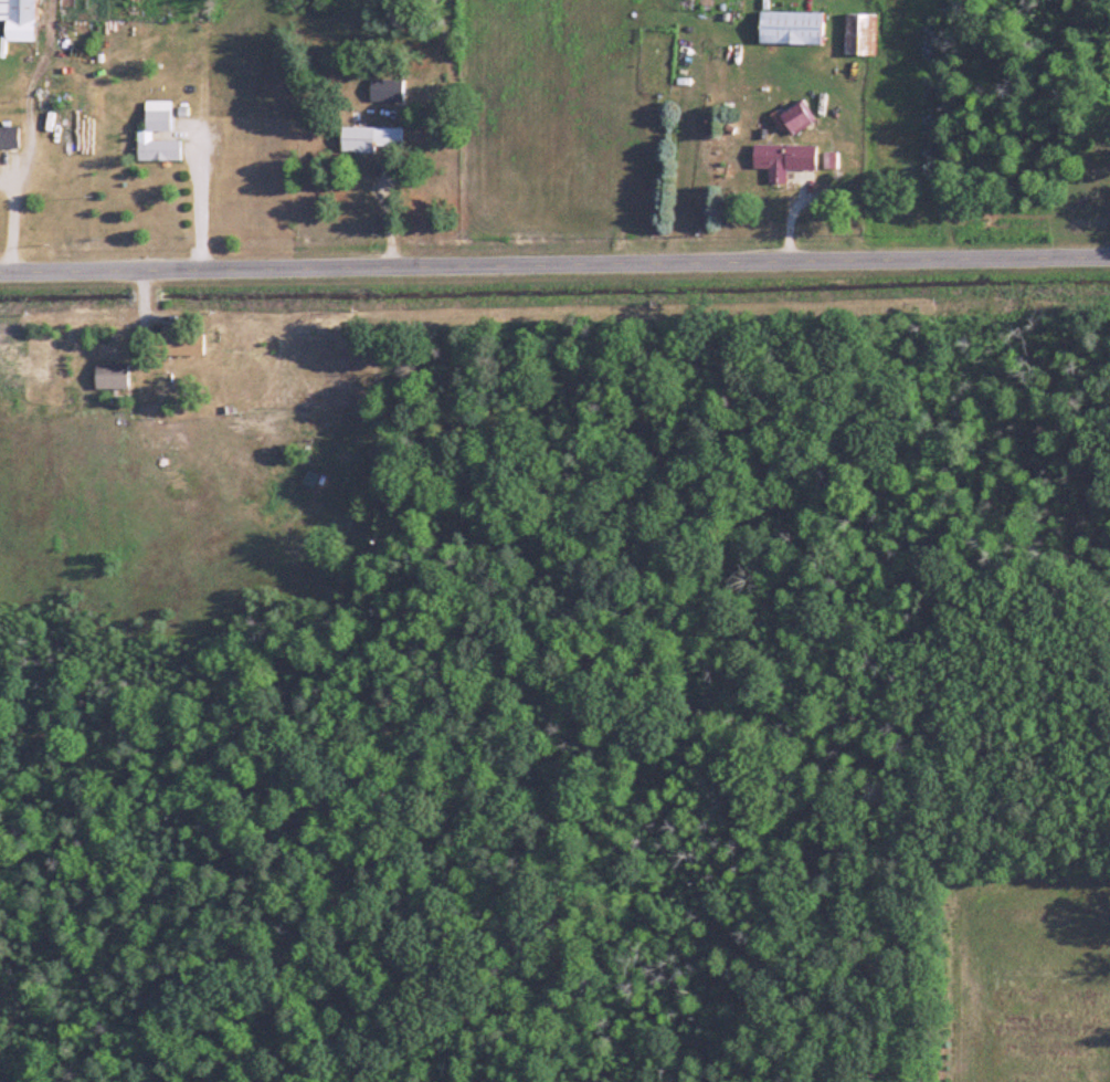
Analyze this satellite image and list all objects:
building: (18, 19)
building: (791, 29)
building: (860, 36)
building: (795, 118)
building: (154, 132)
building: (9, 140)
building: (371, 140)
building: (783, 160)
road: (200, 198)
road: (12, 221)
road: (554, 261)
building: (180, 337)
building: (110, 377)
building: (163, 384)

